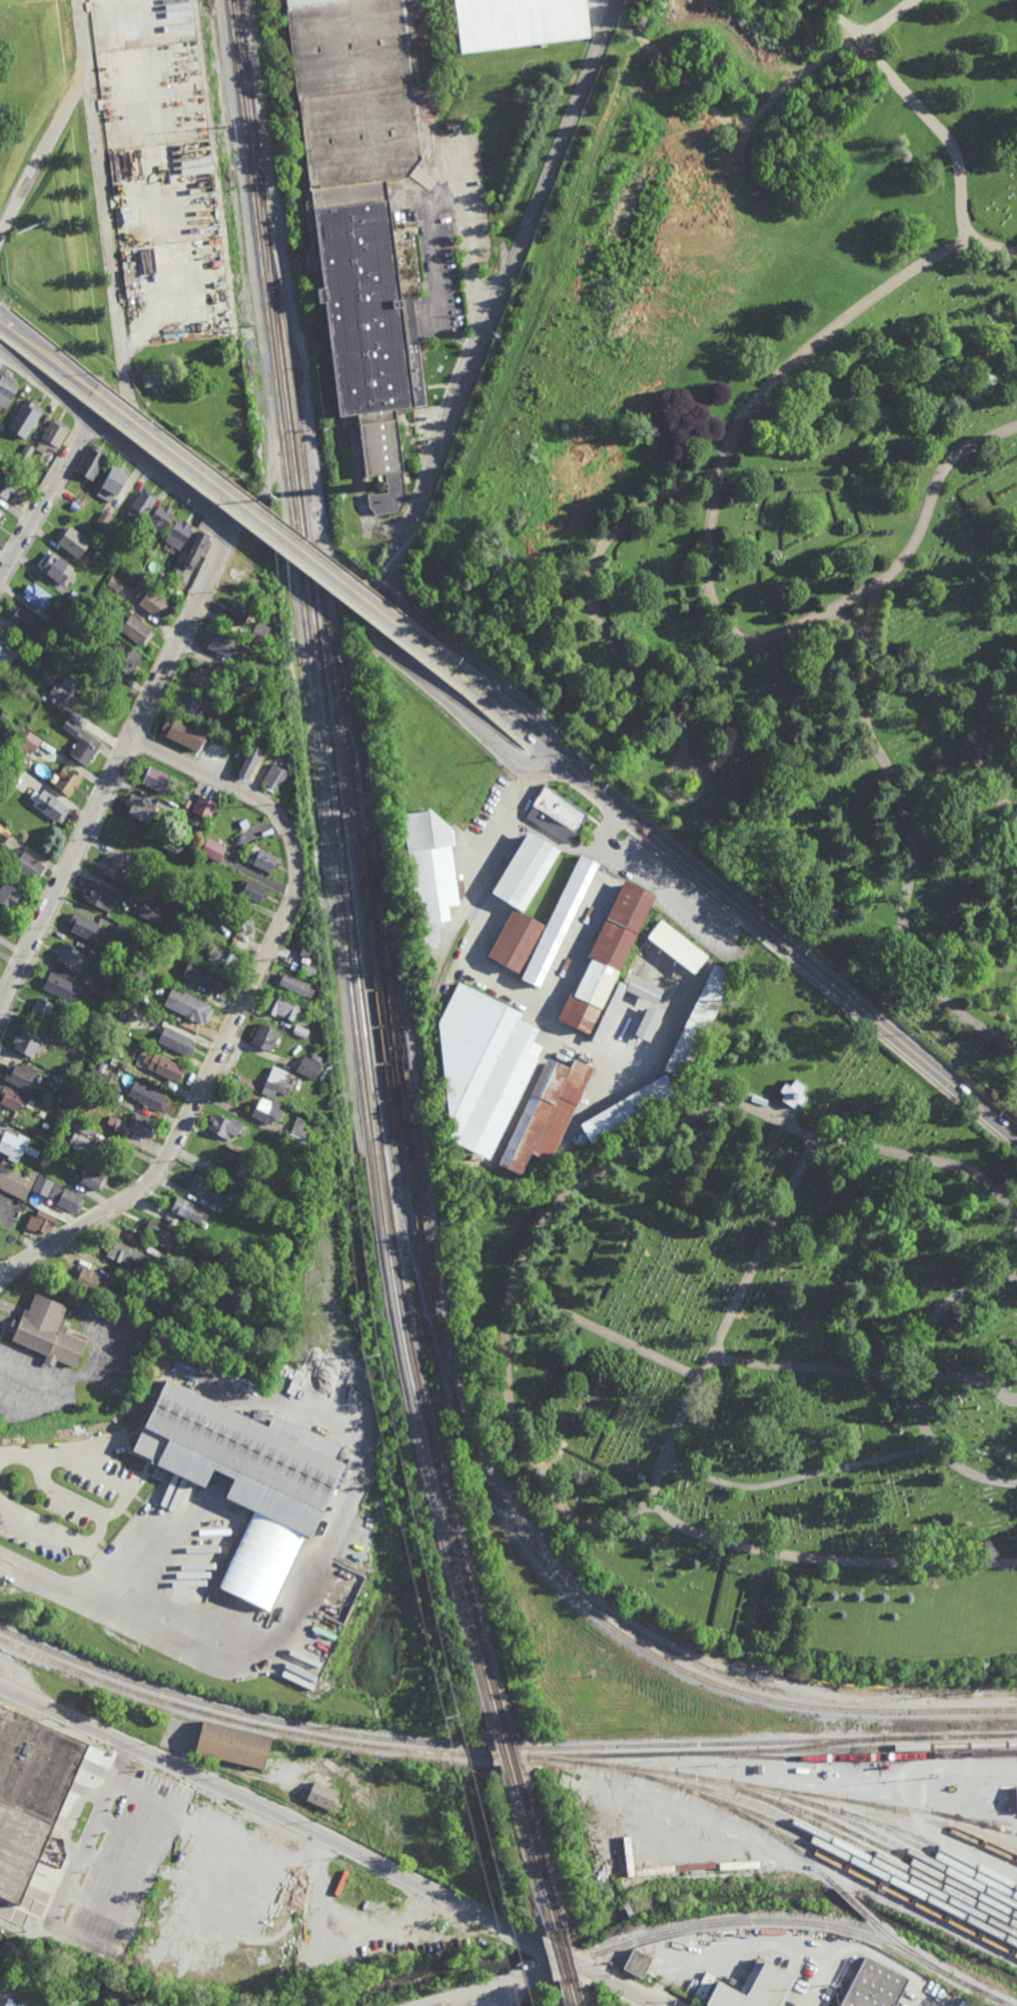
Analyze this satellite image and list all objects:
road: (884, 21)
building: (142, 22)
building: (519, 22)
road: (79, 33)
building: (153, 94)
road: (920, 110)
railway: (245, 125)
power tower: (224, 127)
building: (455, 127)
road: (97, 164)
building: (165, 194)
building: (365, 209)
road: (468, 228)
road: (436, 264)
road: (507, 279)
building: (178, 294)
power tower: (249, 324)
road: (49, 357)
road: (43, 368)
building: (150, 379)
building: (7, 390)
building: (24, 418)
road: (746, 420)
road: (116, 436)
building: (53, 437)
building: (27, 451)
building: (92, 462)
building: (114, 483)
park: (788, 484)
building: (7, 487)
road: (360, 498)
road: (46, 499)
power tower: (276, 499)
building: (142, 504)
building: (1, 513)
road: (924, 516)
building: (103, 519)
building: (161, 519)
building: (112, 529)
building: (178, 533)
road: (284, 541)
building: (74, 542)
road: (276, 547)
building: (196, 550)
building: (57, 568)
building: (177, 572)
building: (162, 578)
building: (172, 582)
building: (116, 583)
building: (37, 596)
road: (592, 597)
building: (81, 599)
building: (151, 601)
building: (236, 611)
building: (23, 624)
building: (60, 625)
building: (135, 629)
building: (259, 632)
road: (854, 643)
building: (222, 645)
power tower: (286, 650)
building: (41, 653)
building: (6, 654)
building: (67, 658)
building: (121, 659)
building: (36, 662)
road: (482, 670)
road: (995, 675)
road: (420, 676)
building: (203, 677)
building: (245, 683)
building: (62, 687)
building: (190, 703)
building: (276, 706)
road: (478, 714)
building: (5, 715)
building: (245, 715)
road: (508, 717)
building: (71, 725)
building: (183, 729)
building: (31, 740)
building: (84, 750)
road: (540, 757)
building: (249, 759)
road: (566, 763)
building: (9, 766)
road: (547, 767)
road: (881, 768)
road: (675, 769)
road: (118, 770)
road: (528, 772)
building: (20, 774)
building: (274, 775)
building: (155, 776)
building: (68, 779)
building: (192, 783)
building: (436, 792)
road: (585, 797)
building: (50, 804)
power tower: (306, 804)
building: (204, 805)
building: (142, 806)
building: (556, 813)
road: (614, 819)
building: (194, 823)
building: (4, 832)
road: (599, 841)
building: (172, 846)
building: (212, 848)
building: (264, 858)
building: (26, 862)
building: (116, 866)
building: (143, 866)
building: (525, 868)
railway: (345, 870)
building: (252, 889)
building: (10, 894)
building: (101, 894)
road: (668, 894)
building: (149, 910)
railway: (368, 916)
building: (236, 918)
building: (560, 920)
road: (732, 920)
building: (86, 925)
building: (309, 925)
building: (124, 930)
building: (515, 938)
building: (678, 946)
building: (155, 952)
building: (221, 954)
building: (72, 955)
building: (607, 955)
power tower: (327, 957)
railway: (450, 957)
road: (802, 957)
building: (151, 958)
building: (111, 959)
building: (149, 965)
building: (307, 969)
building: (203, 976)
road: (486, 979)
building: (62, 983)
building: (294, 984)
railway: (390, 988)
building: (100, 989)
road: (821, 992)
railway: (352, 997)
building: (103, 1002)
building: (281, 1006)
road: (241, 1008)
building: (43, 1009)
building: (196, 1009)
building: (605, 1019)
building: (698, 1020)
building: (121, 1021)
building: (649, 1022)
building: (301, 1028)
building: (264, 1036)
building: (73, 1038)
building: (176, 1040)
building: (28, 1042)
railway: (409, 1062)
road: (617, 1064)
building: (483, 1065)
building: (164, 1067)
building: (308, 1067)
building: (22, 1074)
building: (98, 1079)
building: (276, 1082)
building: (69, 1091)
building: (793, 1093)
building: (149, 1097)
building: (13, 1098)
building: (105, 1101)
building: (628, 1107)
building: (266, 1109)
building: (545, 1114)
building: (59, 1118)
building: (78, 1125)
building: (136, 1125)
building: (225, 1125)
building: (302, 1133)
road: (663, 1138)
building: (60, 1142)
building: (86, 1144)
building: (15, 1146)
building: (275, 1164)
railway: (393, 1167)
power tower: (347, 1169)
building: (250, 1171)
building: (92, 1178)
building: (17, 1179)
building: (42, 1185)
building: (205, 1188)
building: (297, 1194)
building: (231, 1196)
building: (34, 1198)
building: (68, 1198)
building: (186, 1209)
building: (41, 1222)
building: (159, 1232)
building: (126, 1254)
building: (185, 1261)
building: (90, 1280)
building: (136, 1290)
building: (175, 1295)
building: (126, 1306)
building: (48, 1332)
building: (1014, 1338)
road: (608, 1339)
park: (775, 1348)
power tower: (377, 1350)
road: (26, 1376)
road: (868, 1376)
road: (911, 1383)
road: (992, 1390)
road: (51, 1451)
building: (240, 1454)
road: (87, 1468)
building: (641, 1475)
road: (798, 1475)
road: (77, 1501)
road: (116, 1511)
road: (40, 1525)
road: (829, 1557)
road: (37, 1582)
power tower: (453, 1712)
railway: (275, 1722)
railway: (257, 1728)
railway: (791, 1742)
building: (233, 1745)
railway: (511, 1749)
railway: (805, 1749)
railway: (502, 1751)
railway: (773, 1752)
railway: (858, 1760)
railway: (571, 1763)
building: (757, 1769)
building: (30, 1793)
road: (148, 1794)
building: (322, 1795)
road: (918, 1802)
railway: (877, 1806)
railway: (824, 1808)
railway: (735, 1812)
railway: (939, 1812)
road: (349, 1821)
railway: (990, 1821)
road: (93, 1830)
road: (332, 1840)
railway: (985, 1840)
railway: (855, 1843)
railway: (841, 1844)
railway: (913, 1844)
railway: (880, 1847)
railway: (538, 1849)
railway: (941, 1850)
railway: (529, 1851)
railway: (853, 1861)
railway: (882, 1885)
railway: (860, 1909)
railway: (723, 1923)
railway: (917, 1957)
railway: (567, 1958)
railway: (559, 1960)
building: (637, 1965)
road: (538, 1978)
building: (875, 1987)
building: (756, 1989)
road: (463, 1991)
road: (633, 1994)
railway: (576, 1995)
railway: (568, 1996)
building: (10, 2003)
building: (963, 2004)
building: (978, 2004)
building: (973, 2005)

